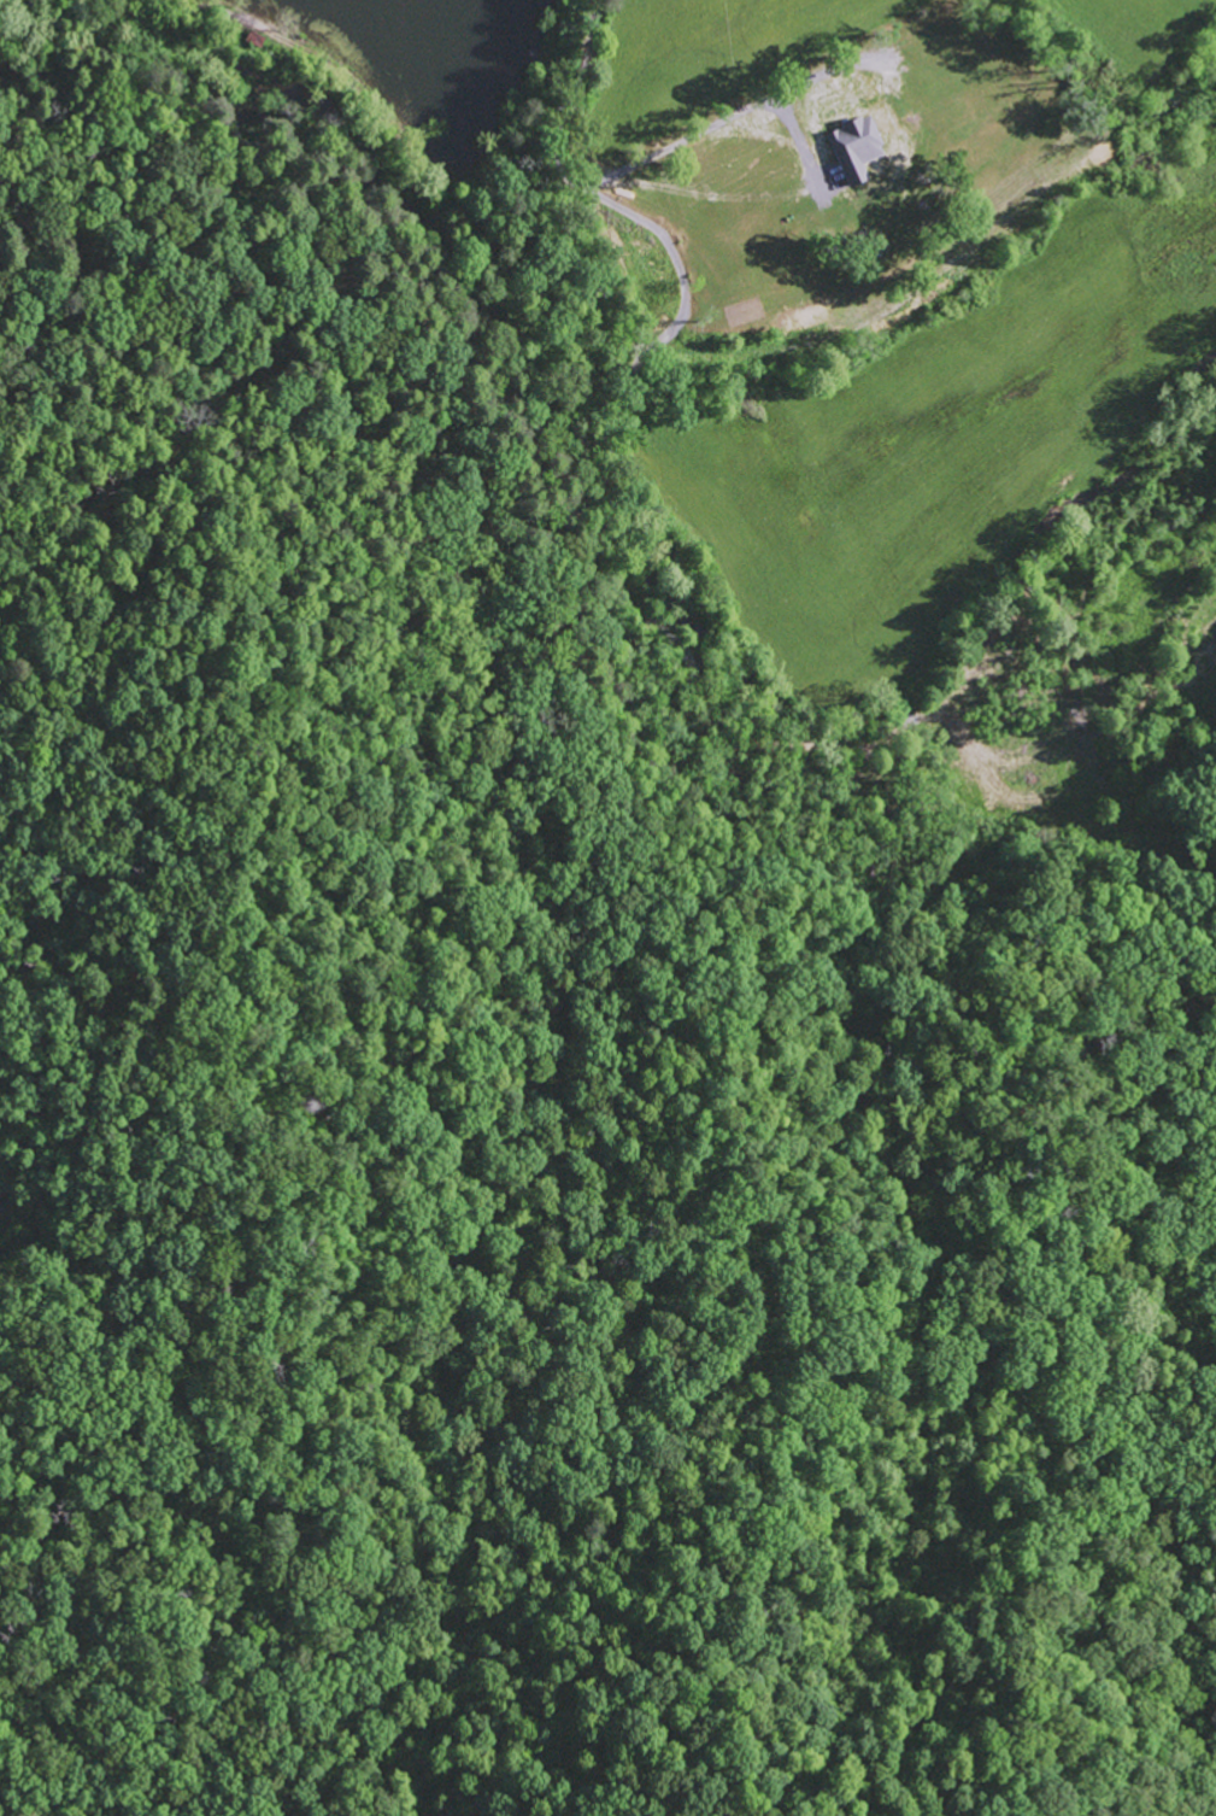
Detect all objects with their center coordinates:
building: (856, 148)
road: (640, 156)
road: (901, 178)

